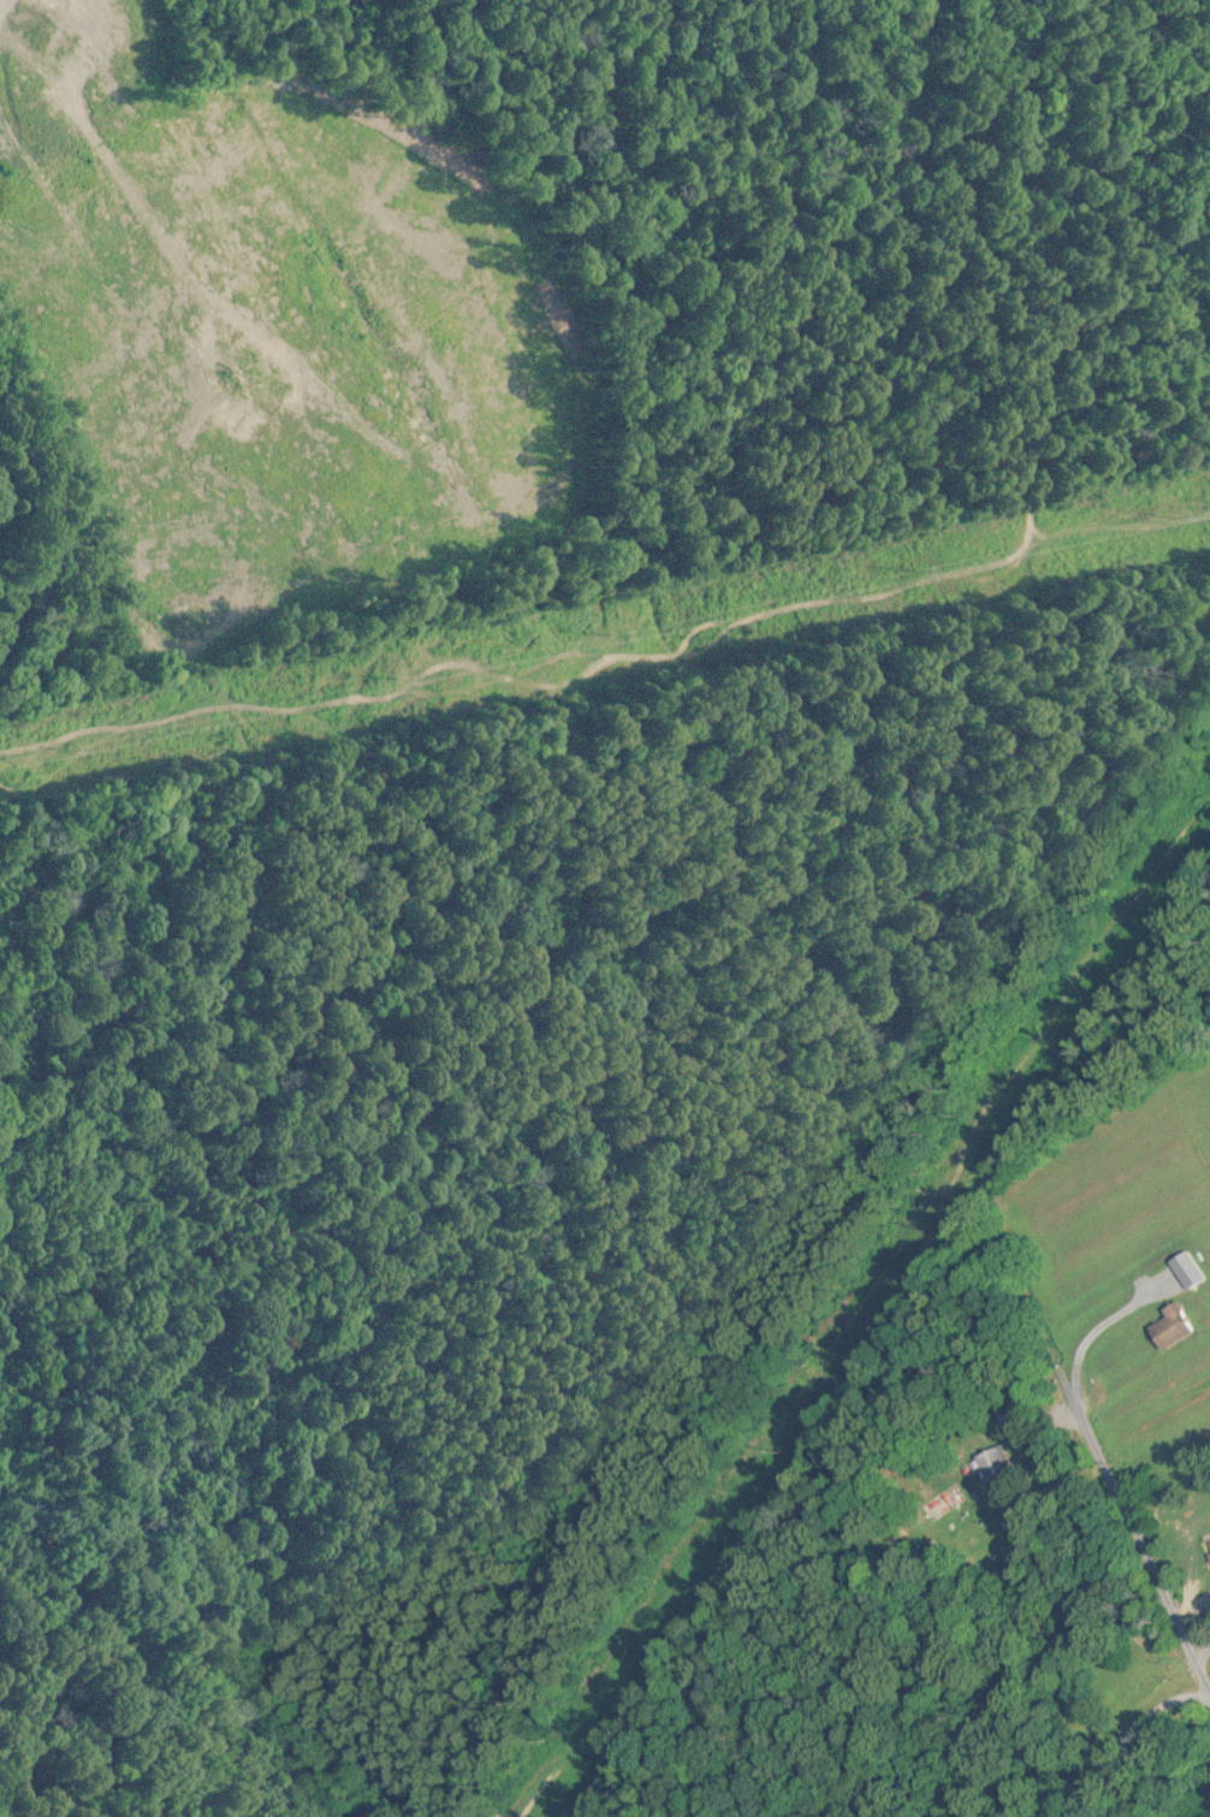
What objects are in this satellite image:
building: (1181, 1328)
road: (813, 1439)
building: (1002, 1467)
road: (1123, 1549)
road: (1202, 1658)

